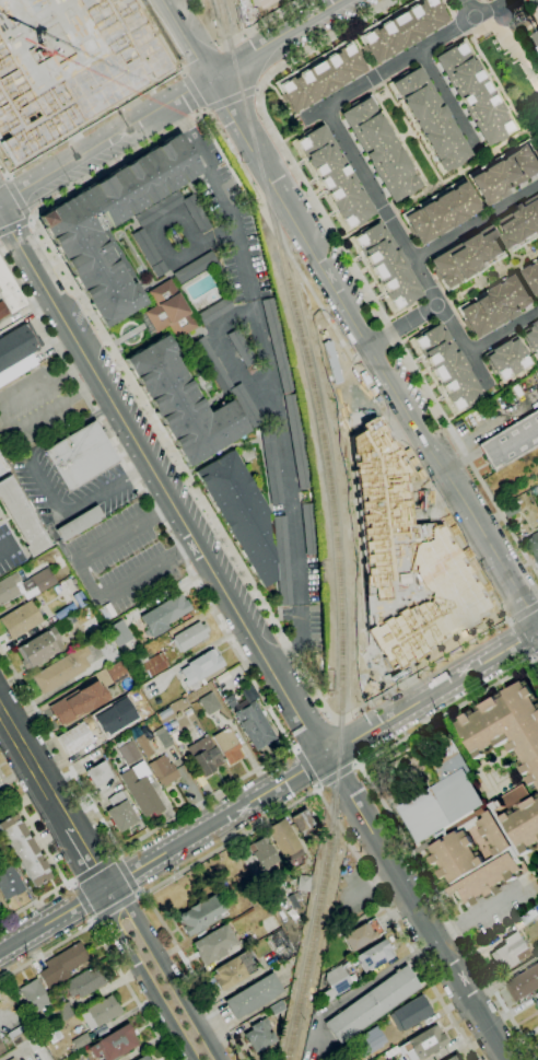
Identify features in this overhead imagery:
road: (195, 3)
park: (264, 4)
building: (28, 7)
road: (467, 9)
water tower: (519, 19)
road: (295, 24)
road: (260, 25)
building: (403, 28)
road: (522, 31)
building: (536, 36)
road: (358, 49)
building: (536, 49)
road: (513, 50)
road: (227, 58)
road: (406, 59)
road: (200, 61)
road: (180, 71)
road: (374, 77)
building: (81, 78)
building: (323, 78)
road: (382, 84)
road: (378, 85)
road: (375, 88)
road: (192, 90)
road: (257, 91)
building: (473, 94)
road: (229, 98)
road: (448, 101)
road: (203, 110)
road: (183, 116)
building: (431, 119)
road: (86, 127)
road: (412, 133)
road: (103, 140)
road: (400, 140)
building: (381, 150)
road: (466, 167)
building: (505, 174)
building: (335, 176)
road: (7, 177)
road: (2, 180)
road: (16, 198)
building: (157, 209)
building: (442, 212)
road: (231, 213)
road: (386, 213)
road: (31, 218)
road: (475, 221)
road: (14, 224)
building: (519, 224)
road: (359, 228)
road: (407, 251)
building: (149, 252)
building: (91, 255)
building: (467, 256)
road: (352, 265)
building: (388, 266)
building: (197, 268)
building: (533, 277)
road: (489, 278)
building: (9, 291)
building: (496, 305)
building: (2, 311)
building: (168, 311)
building: (214, 311)
road: (347, 312)
road: (402, 324)
road: (94, 325)
road: (503, 333)
building: (531, 338)
building: (277, 345)
building: (17, 347)
building: (241, 348)
road: (231, 354)
building: (507, 358)
building: (212, 363)
building: (448, 368)
building: (17, 369)
railway: (309, 371)
road: (44, 383)
building: (183, 403)
parking lot: (36, 406)
building: (246, 406)
road: (46, 410)
building: (512, 441)
building: (296, 442)
road: (282, 452)
building: (81, 456)
building: (271, 464)
building: (2, 467)
road: (162, 481)
road: (44, 485)
building: (535, 492)
building: (510, 508)
road: (160, 509)
building: (241, 511)
road: (441, 511)
building: (22, 517)
building: (79, 523)
building: (308, 528)
building: (534, 546)
road: (5, 547)
road: (183, 549)
parking lot: (8, 550)
building: (402, 555)
building: (282, 561)
road: (85, 579)
building: (24, 586)
building: (79, 598)
building: (63, 610)
road: (521, 610)
building: (163, 615)
building: (20, 620)
road: (302, 624)
building: (117, 632)
building: (189, 637)
road: (517, 642)
building: (40, 648)
building: (106, 648)
road: (286, 652)
road: (536, 661)
building: (152, 663)
building: (200, 666)
building: (61, 669)
building: (114, 669)
building: (230, 678)
road: (255, 686)
road: (432, 695)
building: (239, 696)
building: (78, 702)
building: (209, 703)
road: (1, 712)
building: (163, 713)
building: (172, 724)
building: (255, 725)
building: (506, 726)
building: (81, 735)
building: (162, 736)
building: (144, 745)
building: (227, 745)
road: (294, 748)
building: (127, 750)
building: (173, 754)
building: (204, 755)
park: (405, 761)
road: (356, 765)
road: (306, 767)
road: (35, 768)
building: (139, 770)
building: (163, 770)
building: (98, 773)
road: (335, 773)
building: (141, 793)
building: (443, 794)
road: (323, 802)
building: (120, 812)
building: (303, 820)
road: (393, 820)
road: (215, 823)
road: (33, 828)
building: (284, 840)
building: (488, 846)
building: (24, 850)
building: (261, 853)
road: (117, 854)
road: (87, 859)
road: (93, 870)
road: (126, 875)
building: (9, 882)
building: (303, 884)
road: (148, 892)
road: (141, 894)
road: (83, 900)
building: (294, 900)
road: (35, 901)
road: (115, 906)
railway: (319, 906)
road: (417, 908)
road: (481, 910)
building: (201, 915)
road: (52, 921)
road: (92, 922)
building: (361, 934)
road: (405, 940)
building: (213, 944)
building: (280, 945)
road: (103, 946)
building: (508, 952)
building: (374, 956)
flagpole: (482, 959)
building: (62, 965)
road: (166, 970)
building: (233, 970)
road: (142, 976)
building: (84, 982)
building: (335, 983)
building: (524, 983)
building: (34, 995)
building: (253, 995)
building: (537, 1002)
building: (371, 1004)
building: (537, 1004)
building: (277, 1010)
building: (65, 1011)
building: (101, 1012)
building: (410, 1013)
building: (40, 1026)
building: (21, 1033)
building: (259, 1035)
building: (55, 1036)
building: (80, 1041)
building: (369, 1041)
building: (425, 1042)
building: (114, 1044)
building: (1, 1049)
building: (143, 1058)
building: (453, 1058)
building: (11, 1059)

